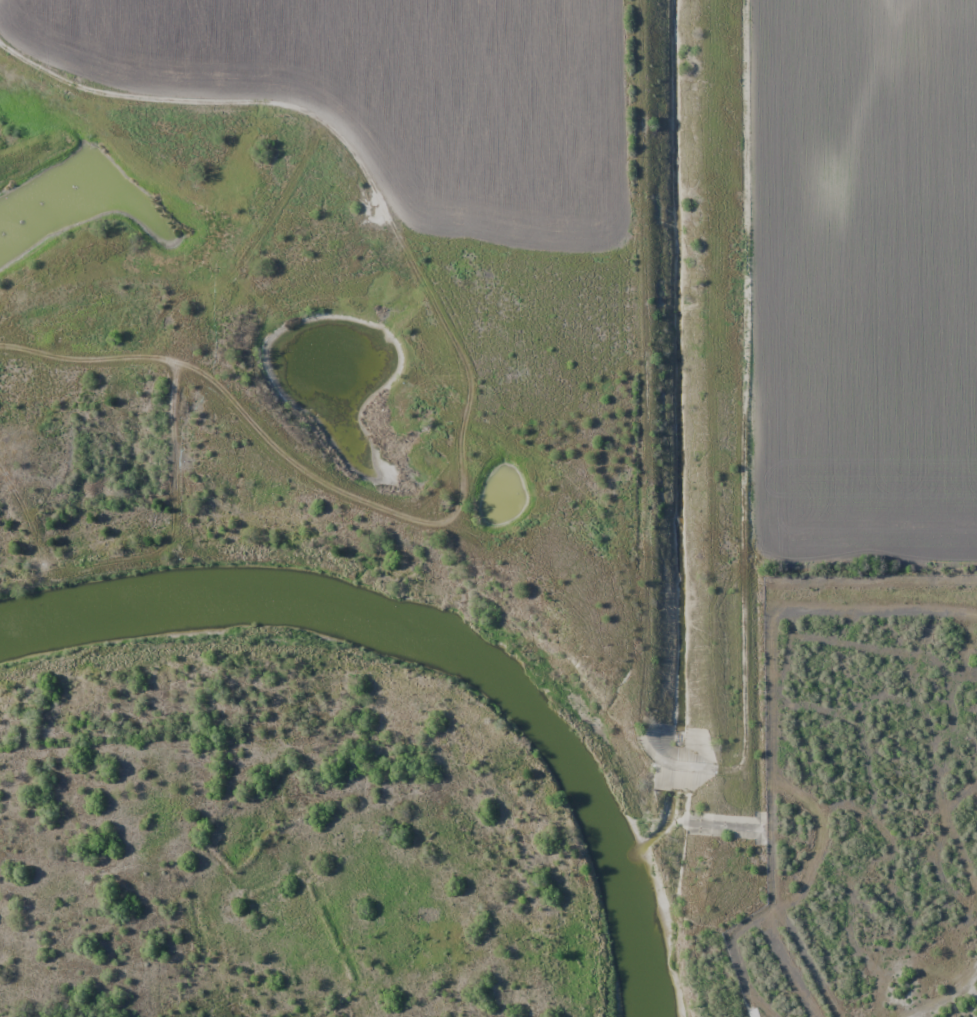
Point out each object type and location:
road: (933, 149)

